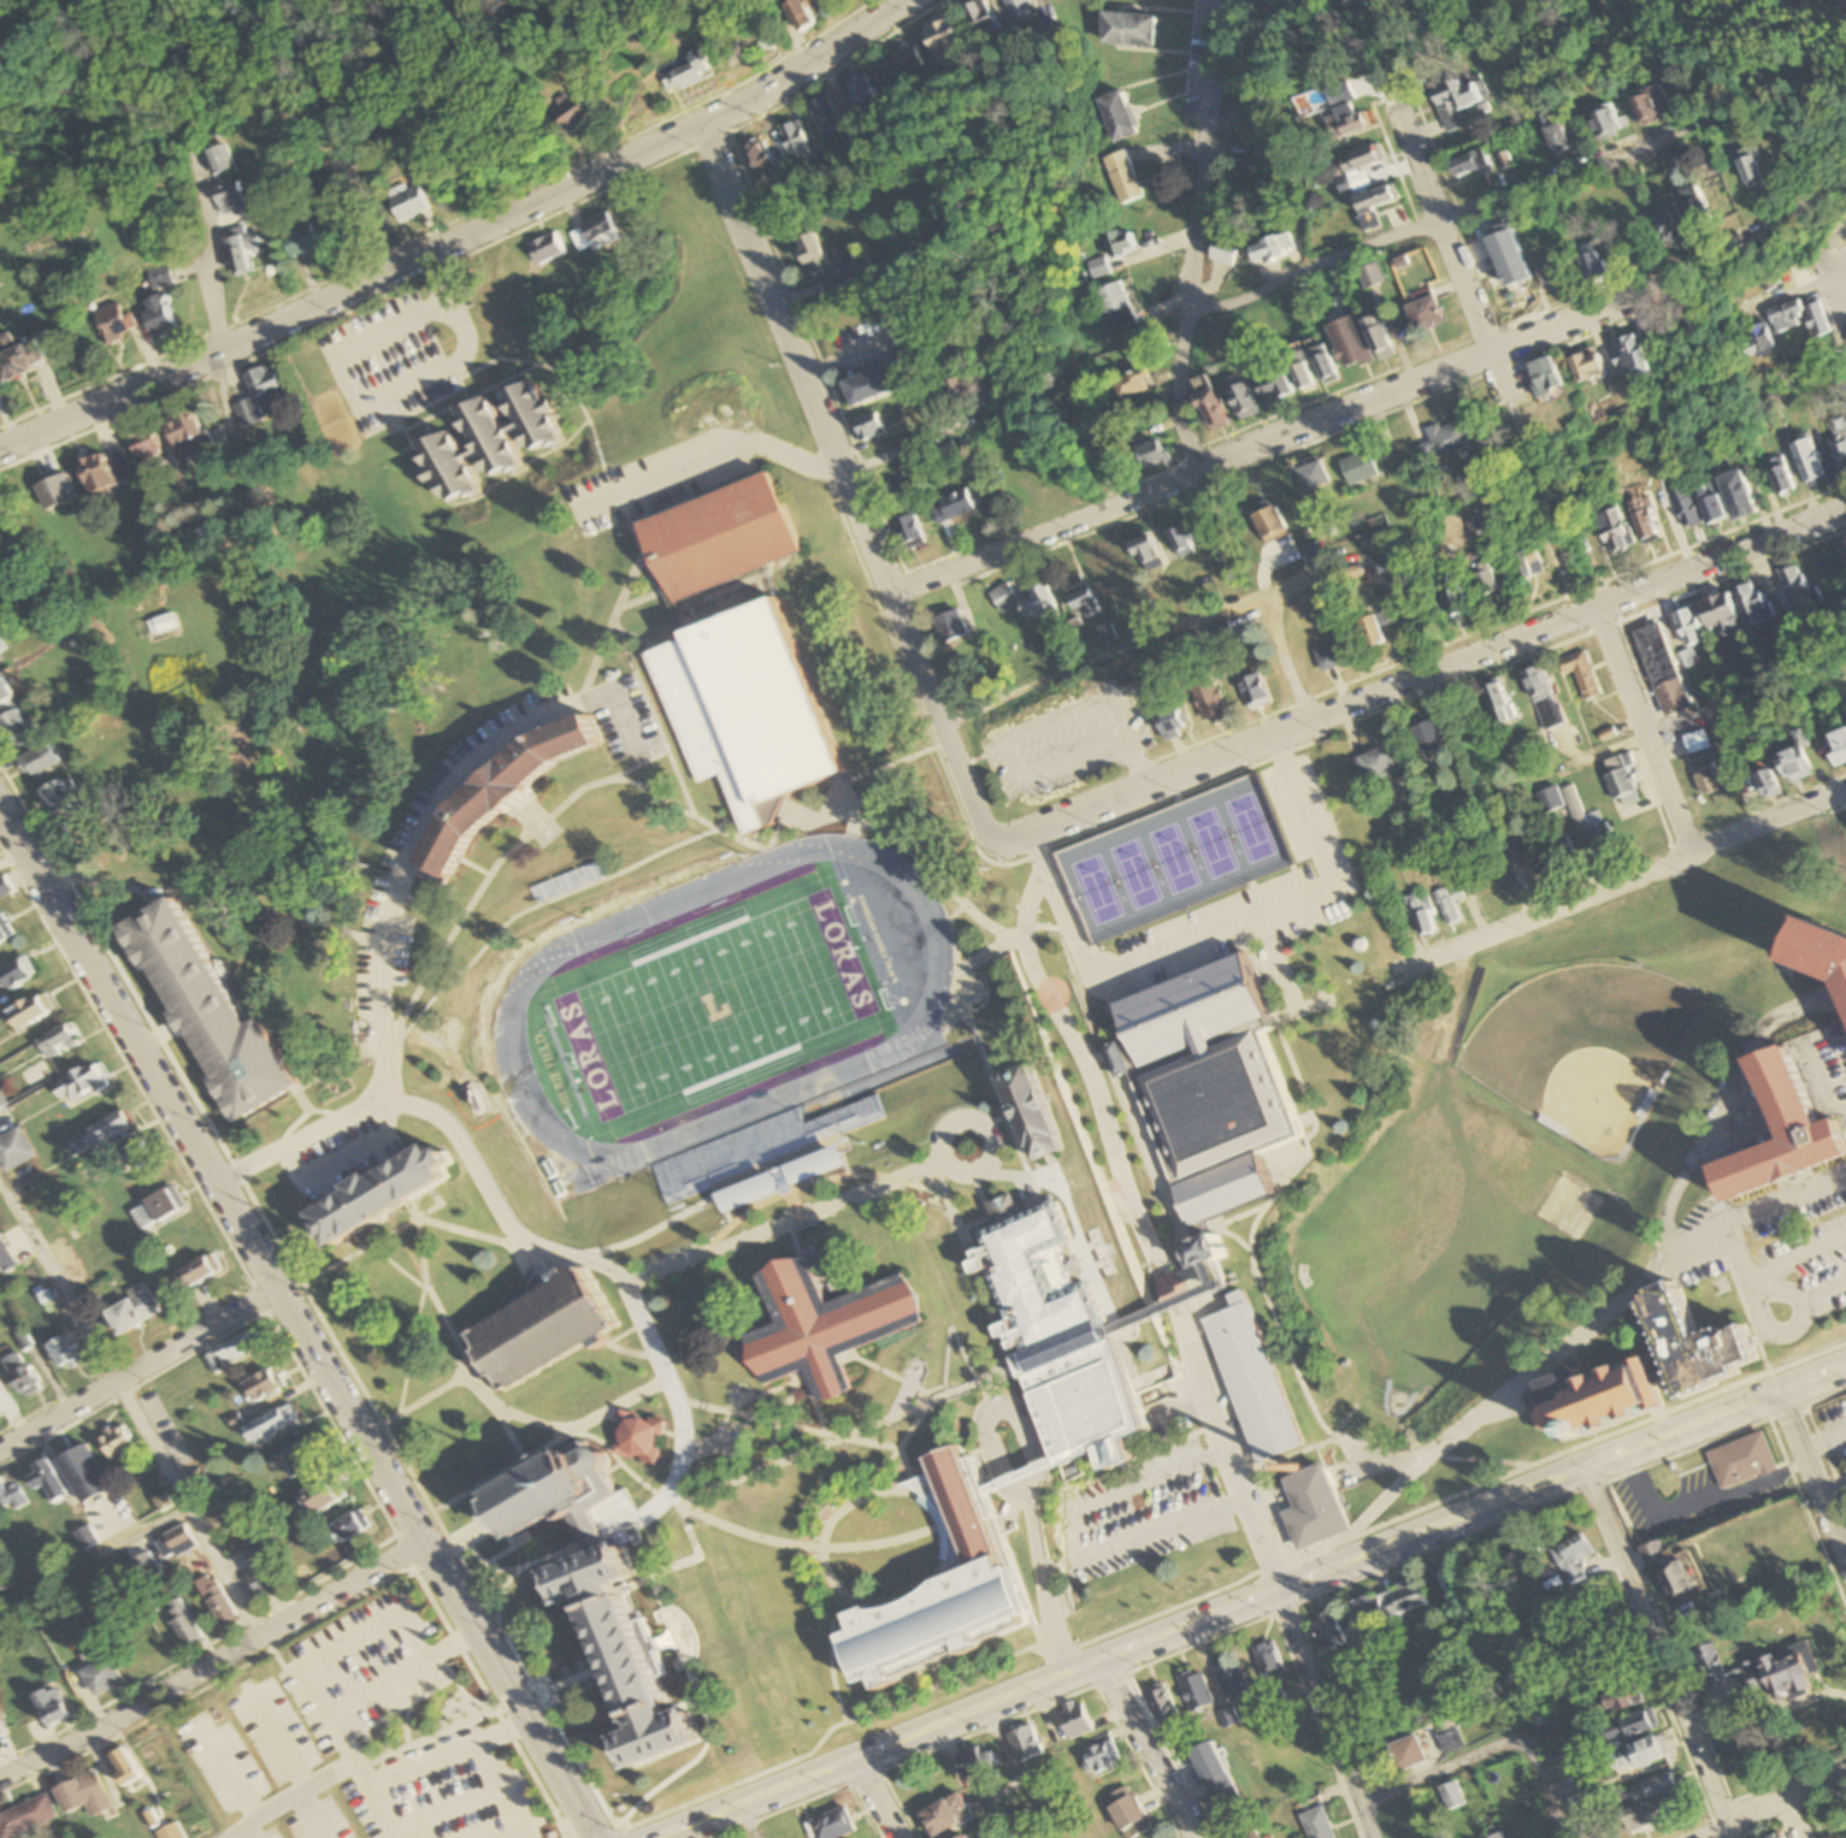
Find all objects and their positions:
road: (813, 173)
road: (1440, 220)
road: (465, 231)
road: (1446, 231)
road: (1192, 237)
road: (210, 252)
road: (1820, 254)
road: (1836, 284)
road: (373, 397)
road: (1378, 400)
road: (1526, 450)
road: (712, 459)
road: (853, 487)
building: (713, 533)
road: (641, 597)
road: (1274, 630)
road: (1105, 658)
road: (1422, 676)
road: (588, 681)
building: (743, 709)
road: (1645, 729)
road: (877, 768)
road: (677, 784)
building: (496, 792)
road: (692, 816)
road: (801, 816)
park: (1254, 825)
road: (529, 837)
park: (1215, 840)
park: (1178, 856)
park: (1137, 871)
road: (1624, 880)
park: (1092, 890)
road: (541, 908)
road: (1043, 929)
road: (1238, 936)
road: (443, 953)
building: (1818, 957)
park: (714, 1005)
track: (926, 1010)
road: (973, 1028)
stadium: (732, 1034)
park: (1587, 1050)
road: (1091, 1074)
building: (1203, 1083)
road: (1813, 1085)
building: (1028, 1117)
road: (972, 1121)
road: (1077, 1123)
building: (1776, 1136)
road: (1028, 1177)
building: (373, 1198)
road: (501, 1198)
road: (945, 1204)
road: (800, 1207)
road: (440, 1221)
road: (1252, 1229)
road: (757, 1235)
road: (798, 1240)
park: (1456, 1243)
road: (371, 1248)
road: (1794, 1255)
road: (337, 1266)
road: (1740, 1271)
road: (1774, 1289)
road: (312, 1300)
road: (490, 1313)
road: (296, 1322)
building: (821, 1325)
road: (626, 1329)
building: (539, 1330)
building: (1063, 1332)
road: (632, 1351)
road: (464, 1353)
road: (1551, 1357)
road: (138, 1370)
road: (897, 1375)
road: (803, 1376)
building: (1639, 1377)
building: (1251, 1381)
road: (449, 1384)
road: (801, 1390)
road: (1308, 1395)
road: (624, 1403)
road: (131, 1406)
road: (991, 1409)
road: (750, 1417)
road: (891, 1419)
road: (508, 1434)
road: (1816, 1434)
building: (638, 1435)
road: (1303, 1450)
road: (809, 1452)
road: (1234, 1452)
road: (1470, 1456)
road: (904, 1464)
chimney: (1298, 1468)
road: (881, 1472)
road: (1033, 1472)
road: (1565, 1472)
road: (1812, 1472)
road: (1003, 1484)
road: (1028, 1484)
road: (1833, 1487)
building: (545, 1489)
road: (660, 1502)
building: (1315, 1508)
road: (442, 1521)
road: (474, 1533)
road: (1077, 1553)
road: (488, 1564)
road: (825, 1568)
road: (1042, 1573)
building: (939, 1588)
road: (1258, 1620)
road: (1657, 1651)
building: (621, 1653)
road: (214, 1665)
road: (680, 1669)
road: (953, 1684)
road: (560, 1686)
road: (324, 1695)
road: (974, 1709)
road: (1332, 1710)
road: (507, 1733)
road: (288, 1742)
road: (480, 1744)
road: (1491, 1747)
road: (1146, 1748)
road: (359, 1751)
road: (798, 1759)
road: (583, 1766)
road: (237, 1771)
road: (1019, 1772)
road: (1782, 1781)
road: (874, 1797)
road: (299, 1798)
road: (1773, 1807)
road: (393, 1813)
road: (322, 1815)
road: (1788, 1815)
road: (749, 1821)
road: (256, 1832)

